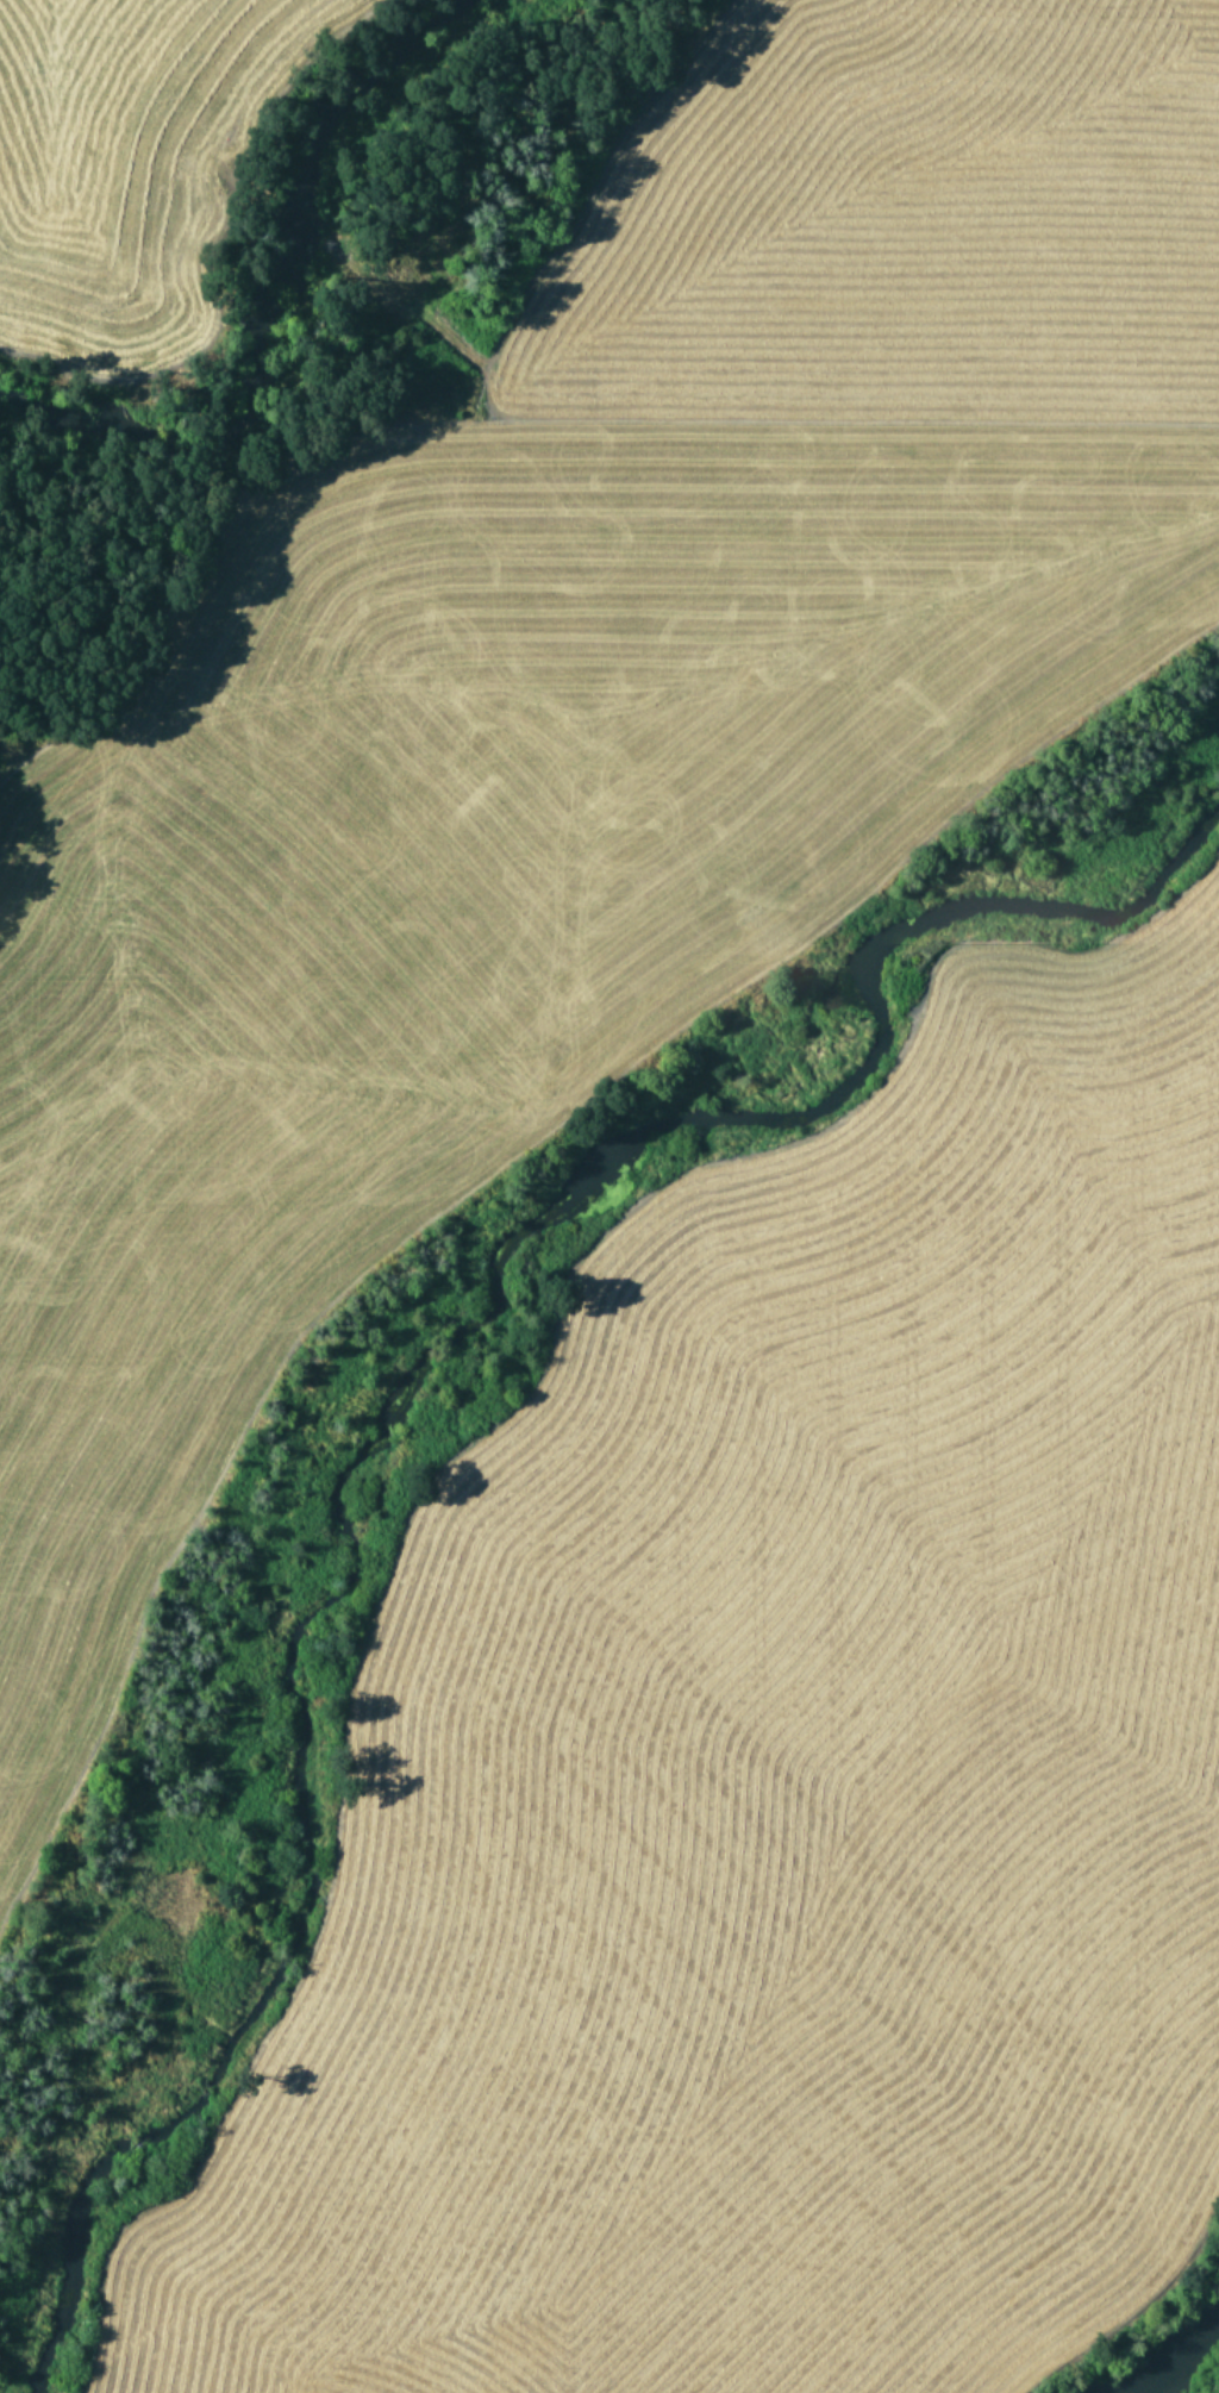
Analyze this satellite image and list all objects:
crop: (573, 700)
crop: (1212, 2386)

